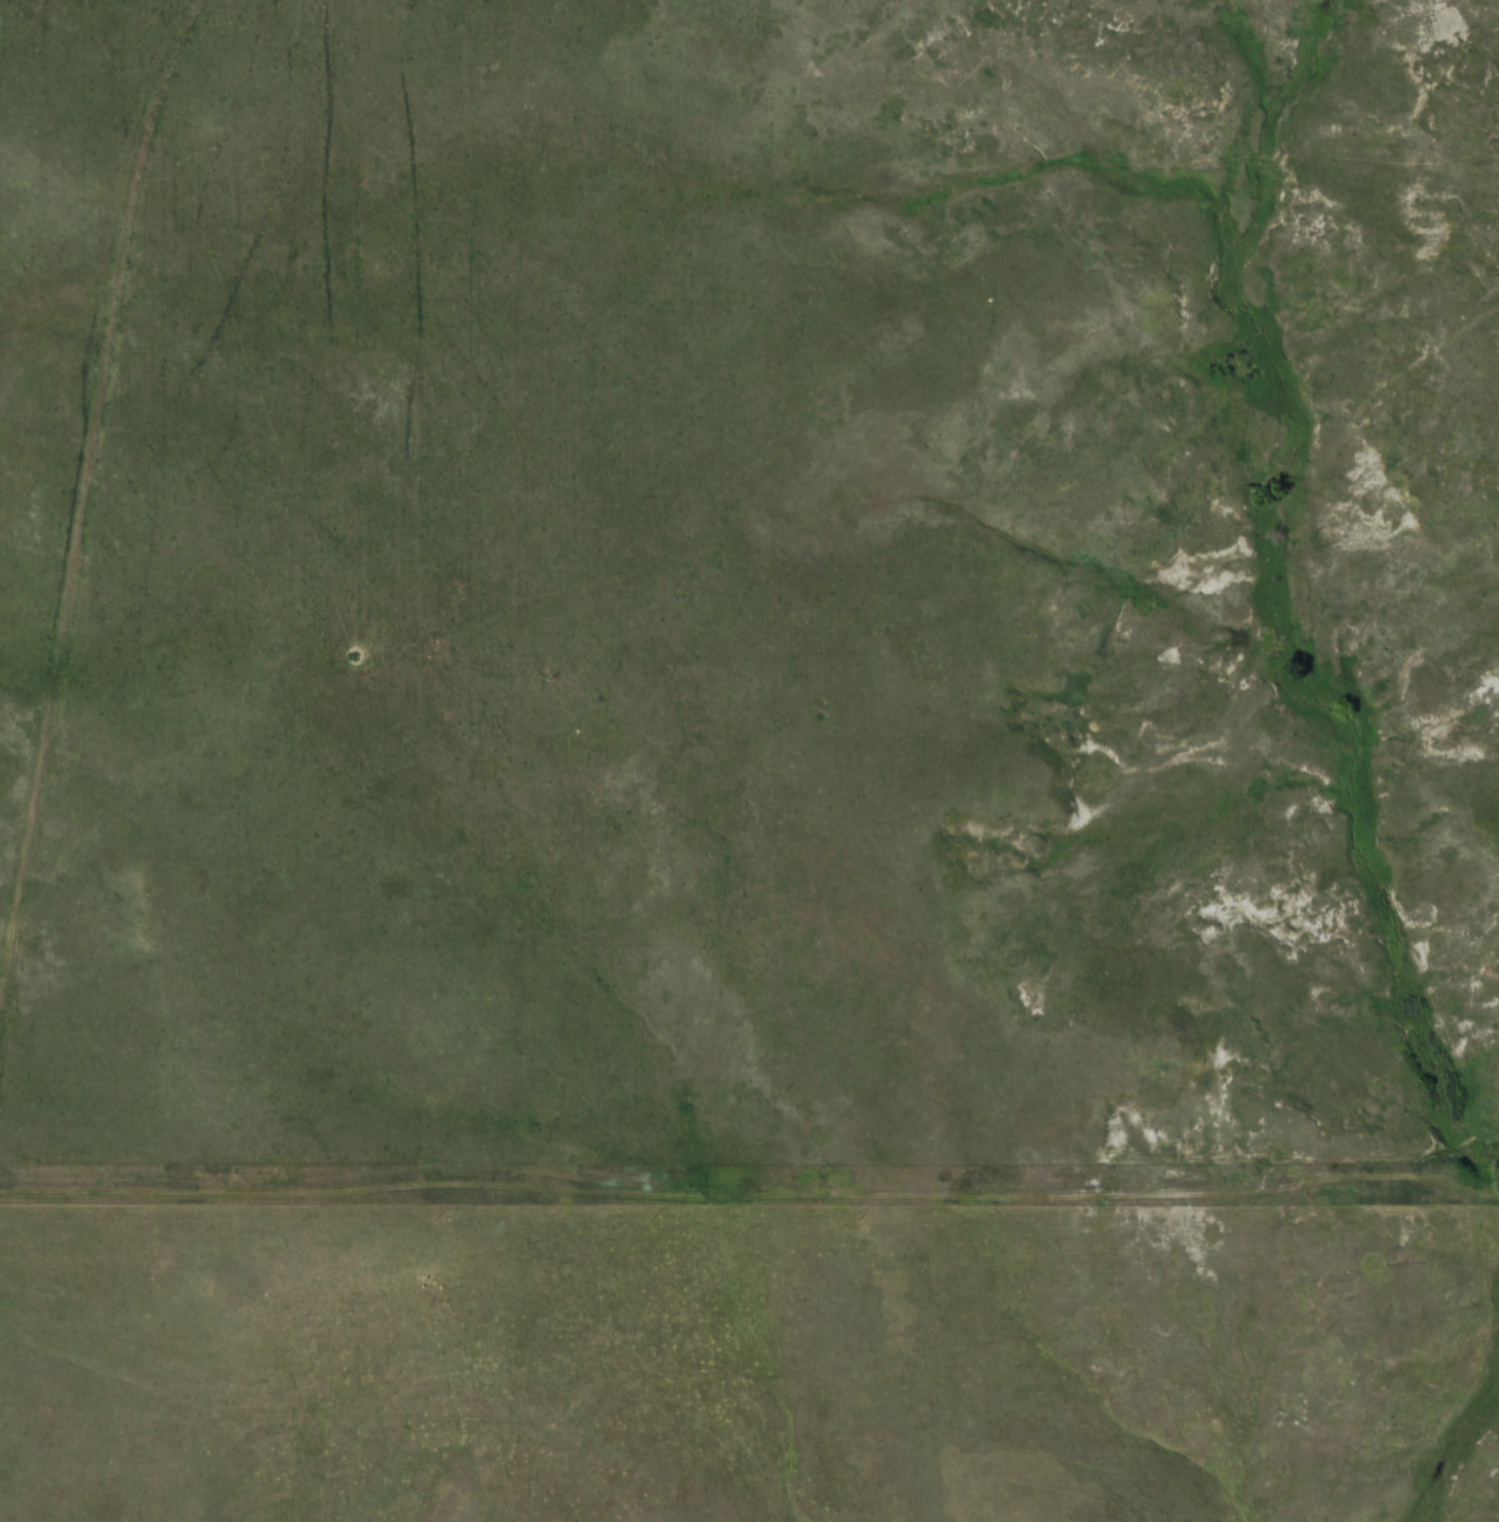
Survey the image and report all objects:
road: (626, 1198)

